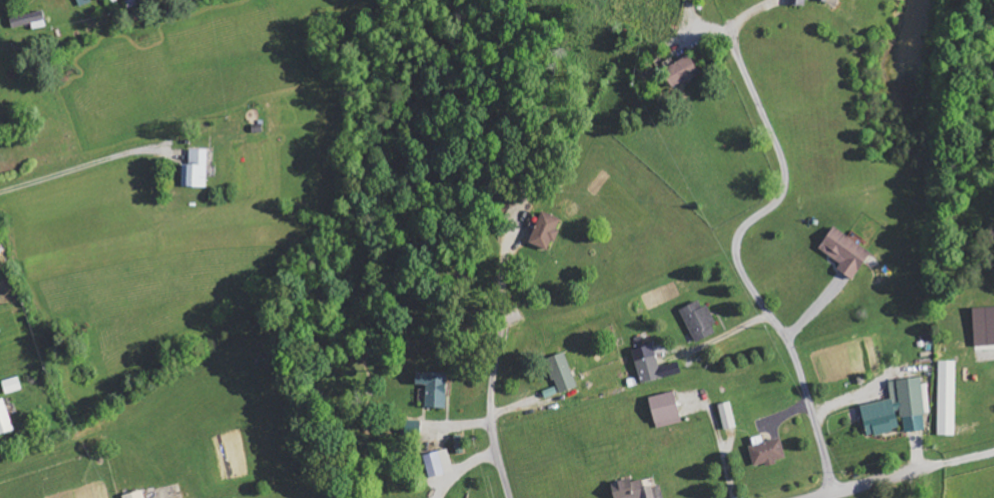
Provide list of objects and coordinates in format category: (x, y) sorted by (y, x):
building: (827, 0)
building: (84, 2)
building: (798, 2)
building: (29, 20)
building: (682, 72)
building: (196, 169)
building: (546, 231)
building: (845, 252)
road: (739, 262)
building: (699, 321)
building: (984, 326)
building: (652, 365)
building: (562, 373)
building: (12, 385)
building: (434, 389)
building: (947, 398)
road: (491, 402)
building: (899, 408)
building: (665, 410)
building: (727, 416)
building: (5, 419)
building: (413, 427)
building: (767, 451)
building: (438, 463)
road: (866, 485)
building: (632, 489)
building: (135, 495)

